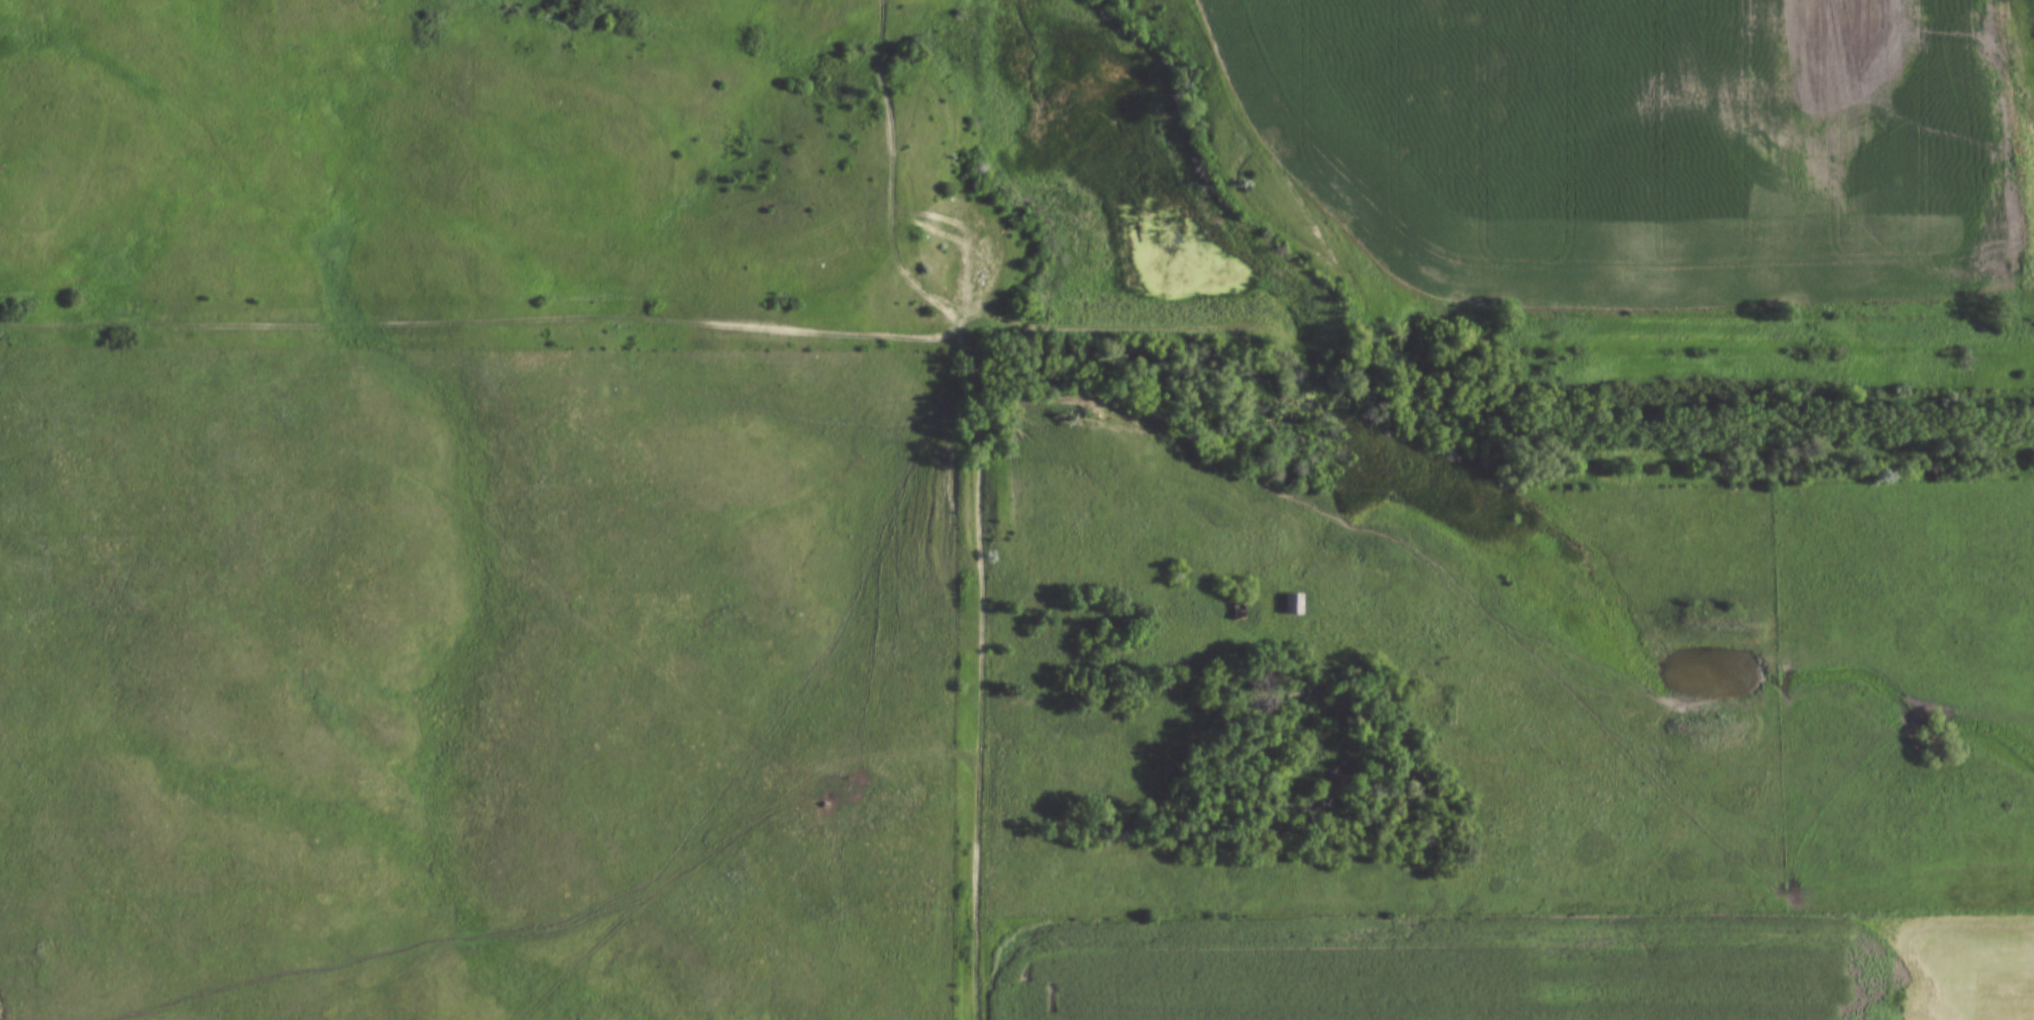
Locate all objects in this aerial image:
road: (484, 338)
building: (1290, 605)
road: (979, 679)

